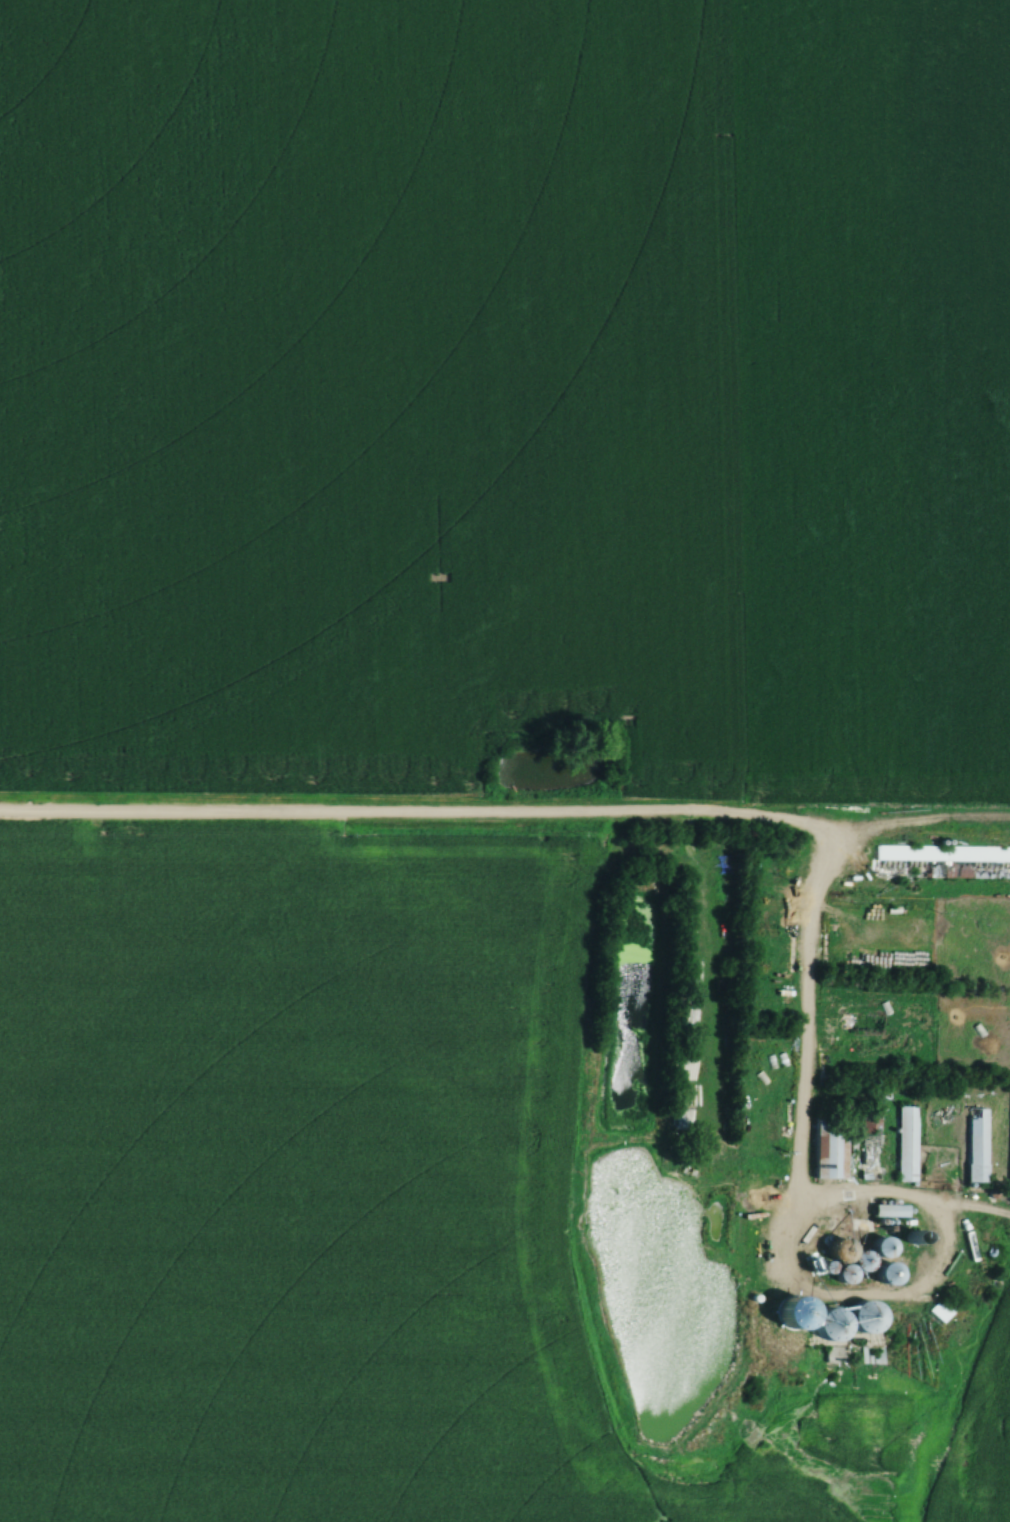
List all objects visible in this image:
road: (633, 820)
building: (887, 852)
building: (987, 855)
building: (953, 871)
building: (684, 1069)
building: (681, 1095)
building: (682, 1119)
building: (870, 1144)
building: (906, 1144)
building: (977, 1146)
building: (829, 1150)
building: (890, 1211)
building: (878, 1251)
building: (837, 1255)
building: (860, 1264)
building: (823, 1271)
building: (883, 1277)
building: (840, 1278)
building: (942, 1310)
building: (861, 1321)
building: (828, 1329)
building: (834, 1355)
building: (869, 1356)

